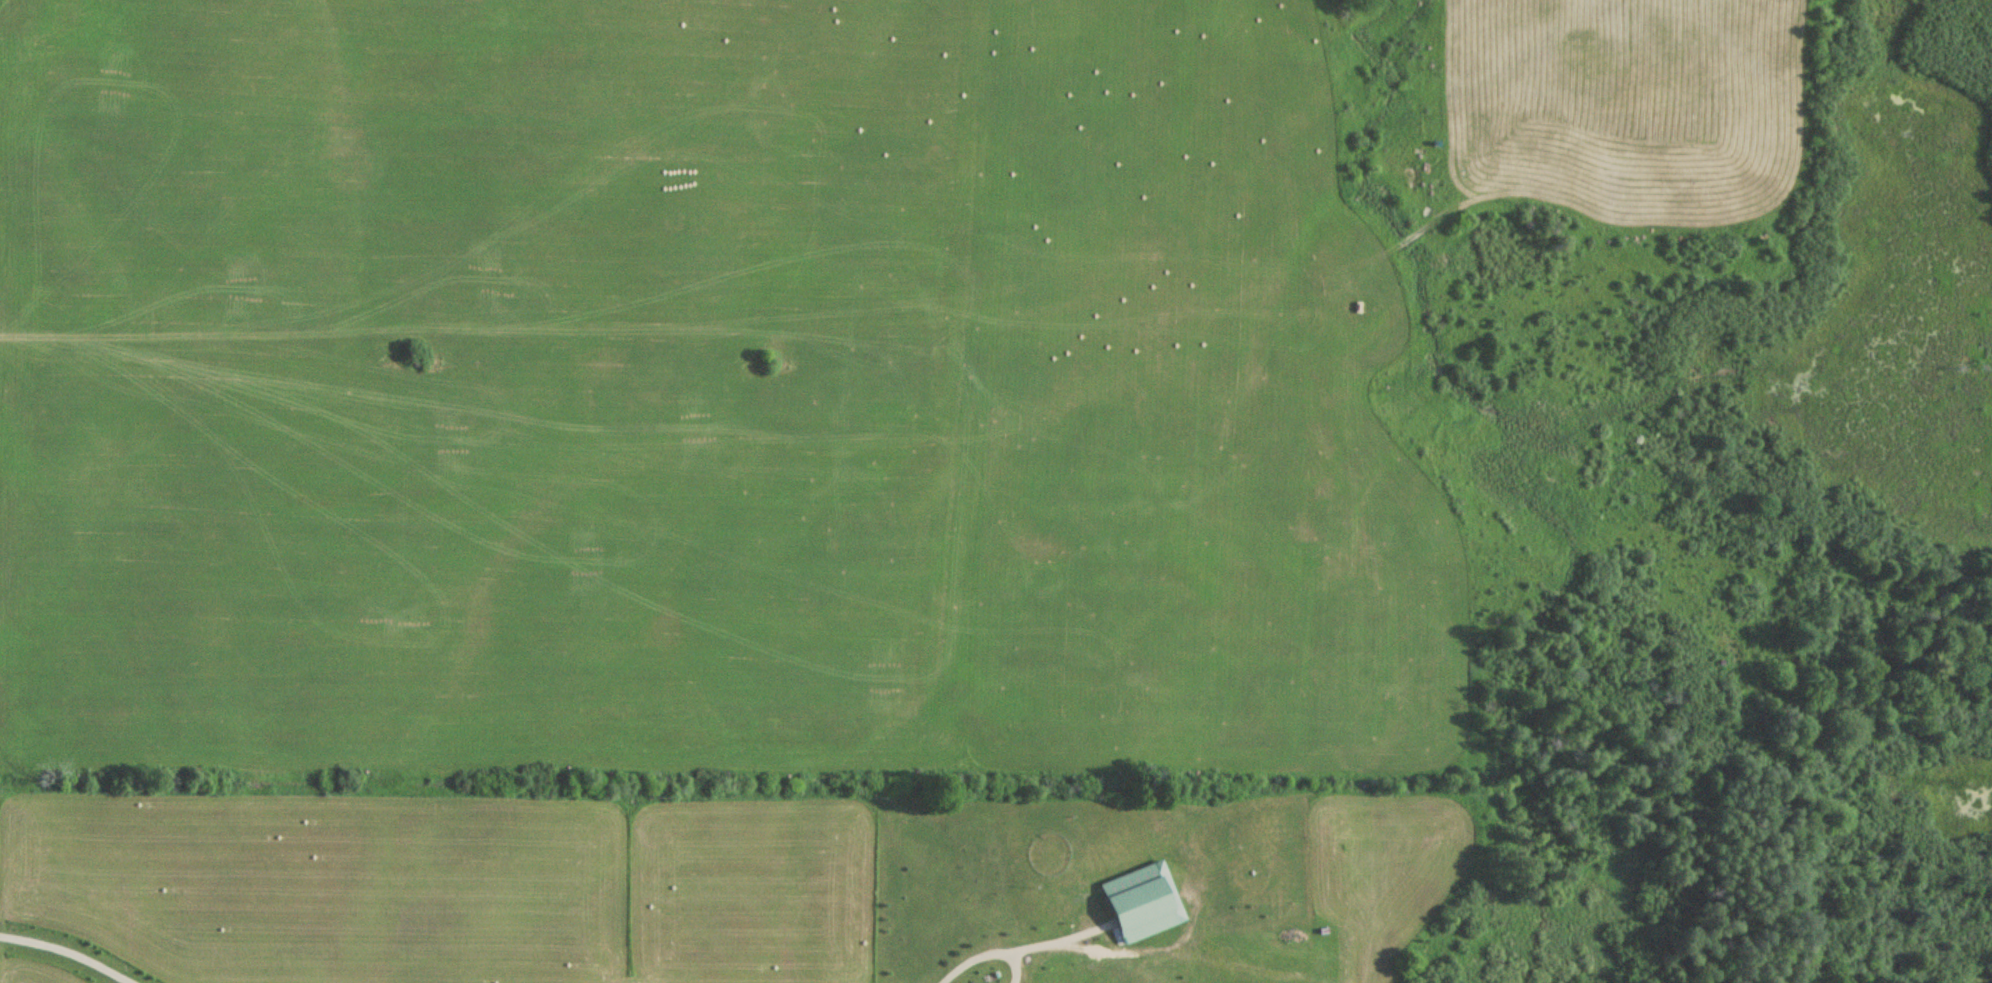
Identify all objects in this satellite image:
building: (1141, 903)

